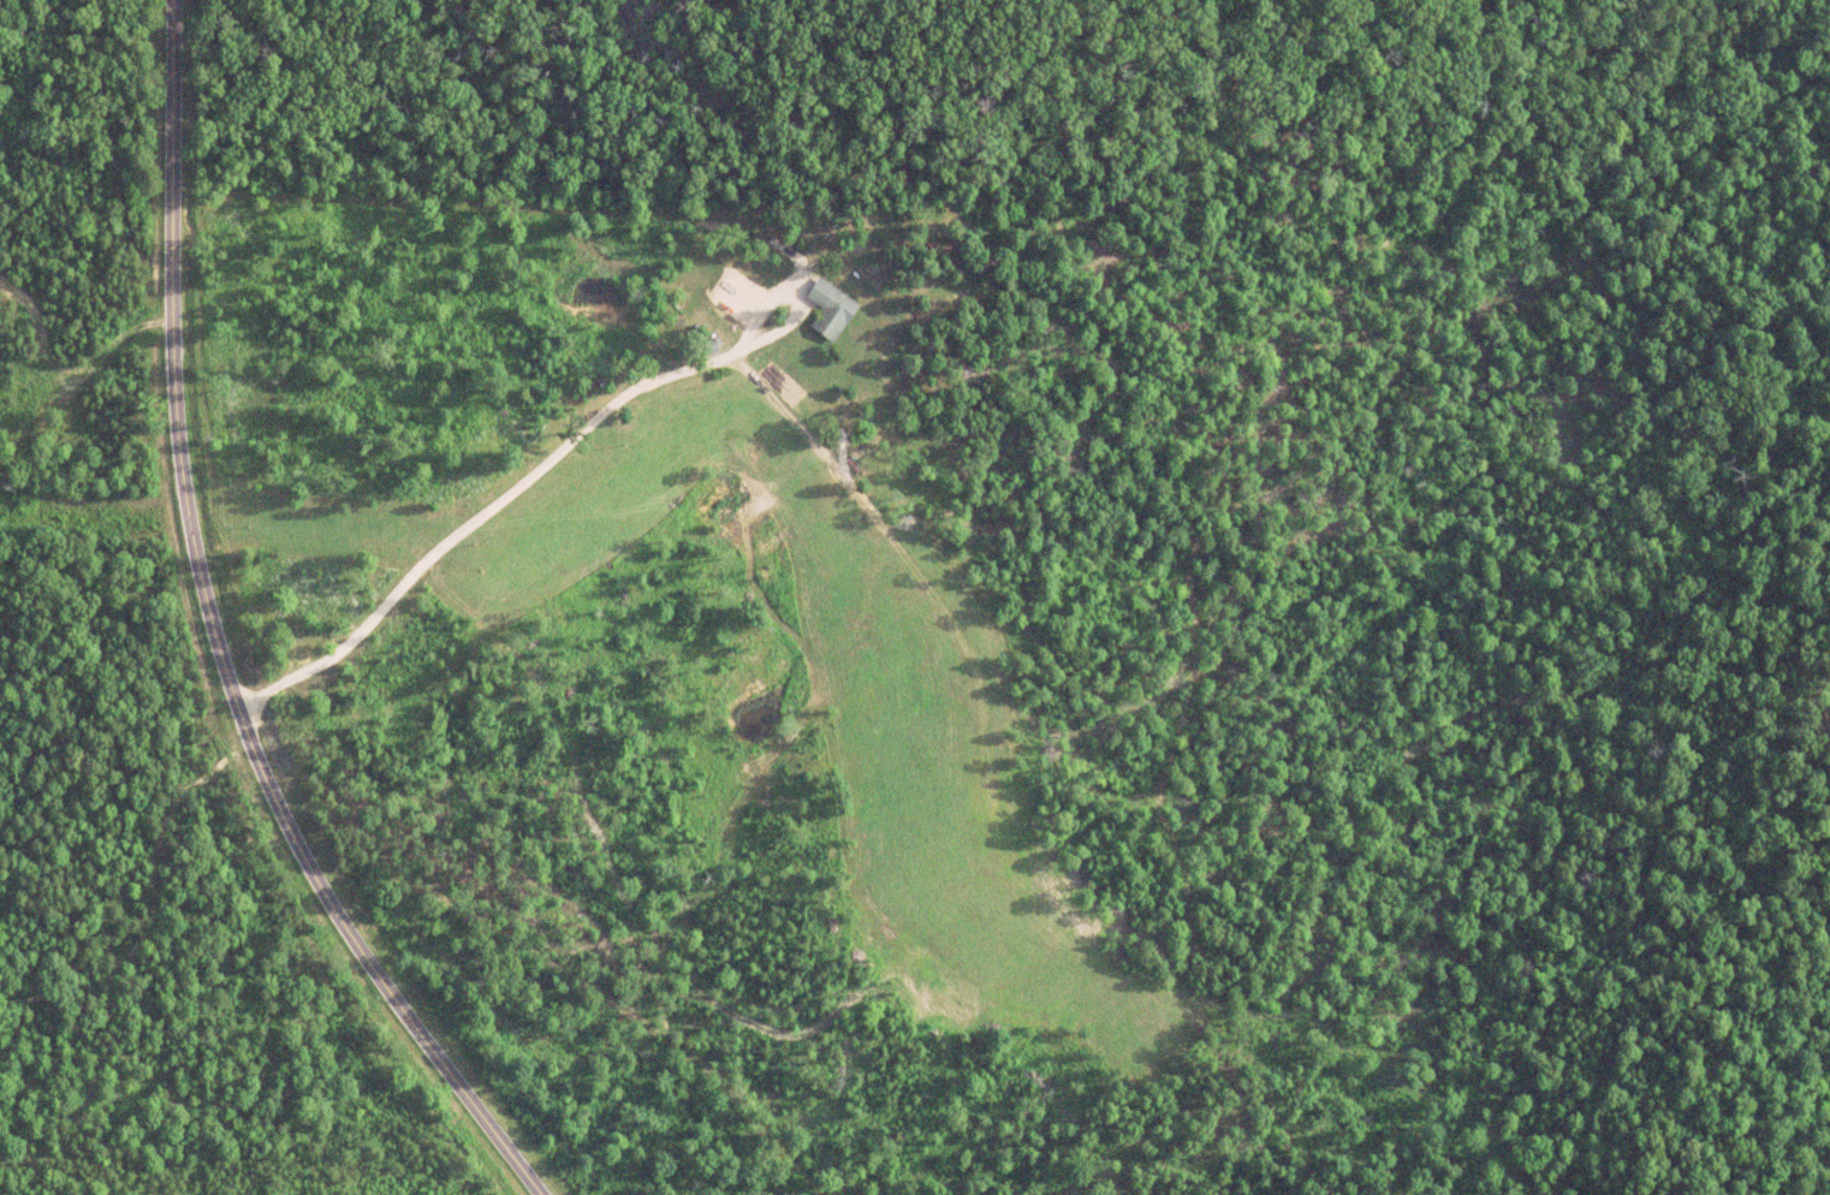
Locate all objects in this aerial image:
building: (824, 289)
building: (837, 313)
road: (212, 642)

